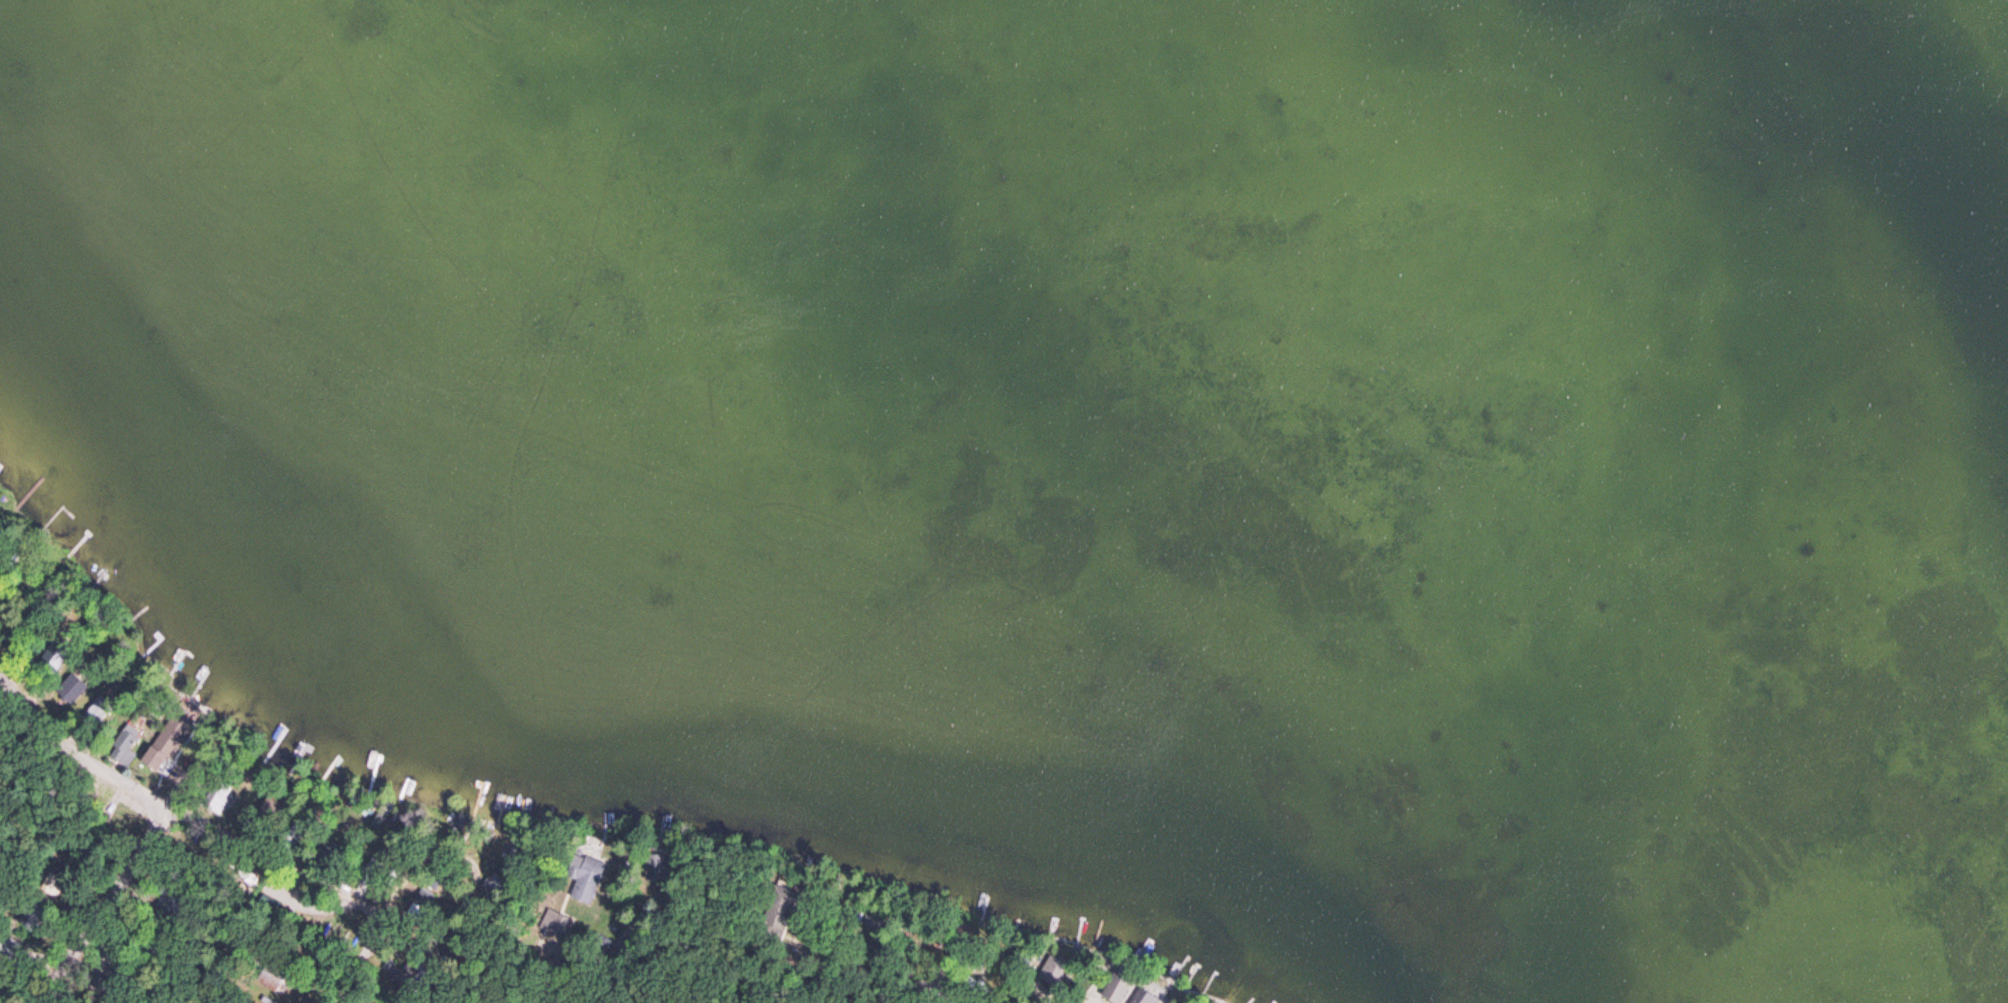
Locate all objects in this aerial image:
building: (73, 687)
road: (78, 751)
road: (198, 767)
road: (275, 865)
building: (585, 884)
road: (105, 907)
road: (358, 962)
road: (771, 963)
road: (781, 986)
road: (543, 993)

